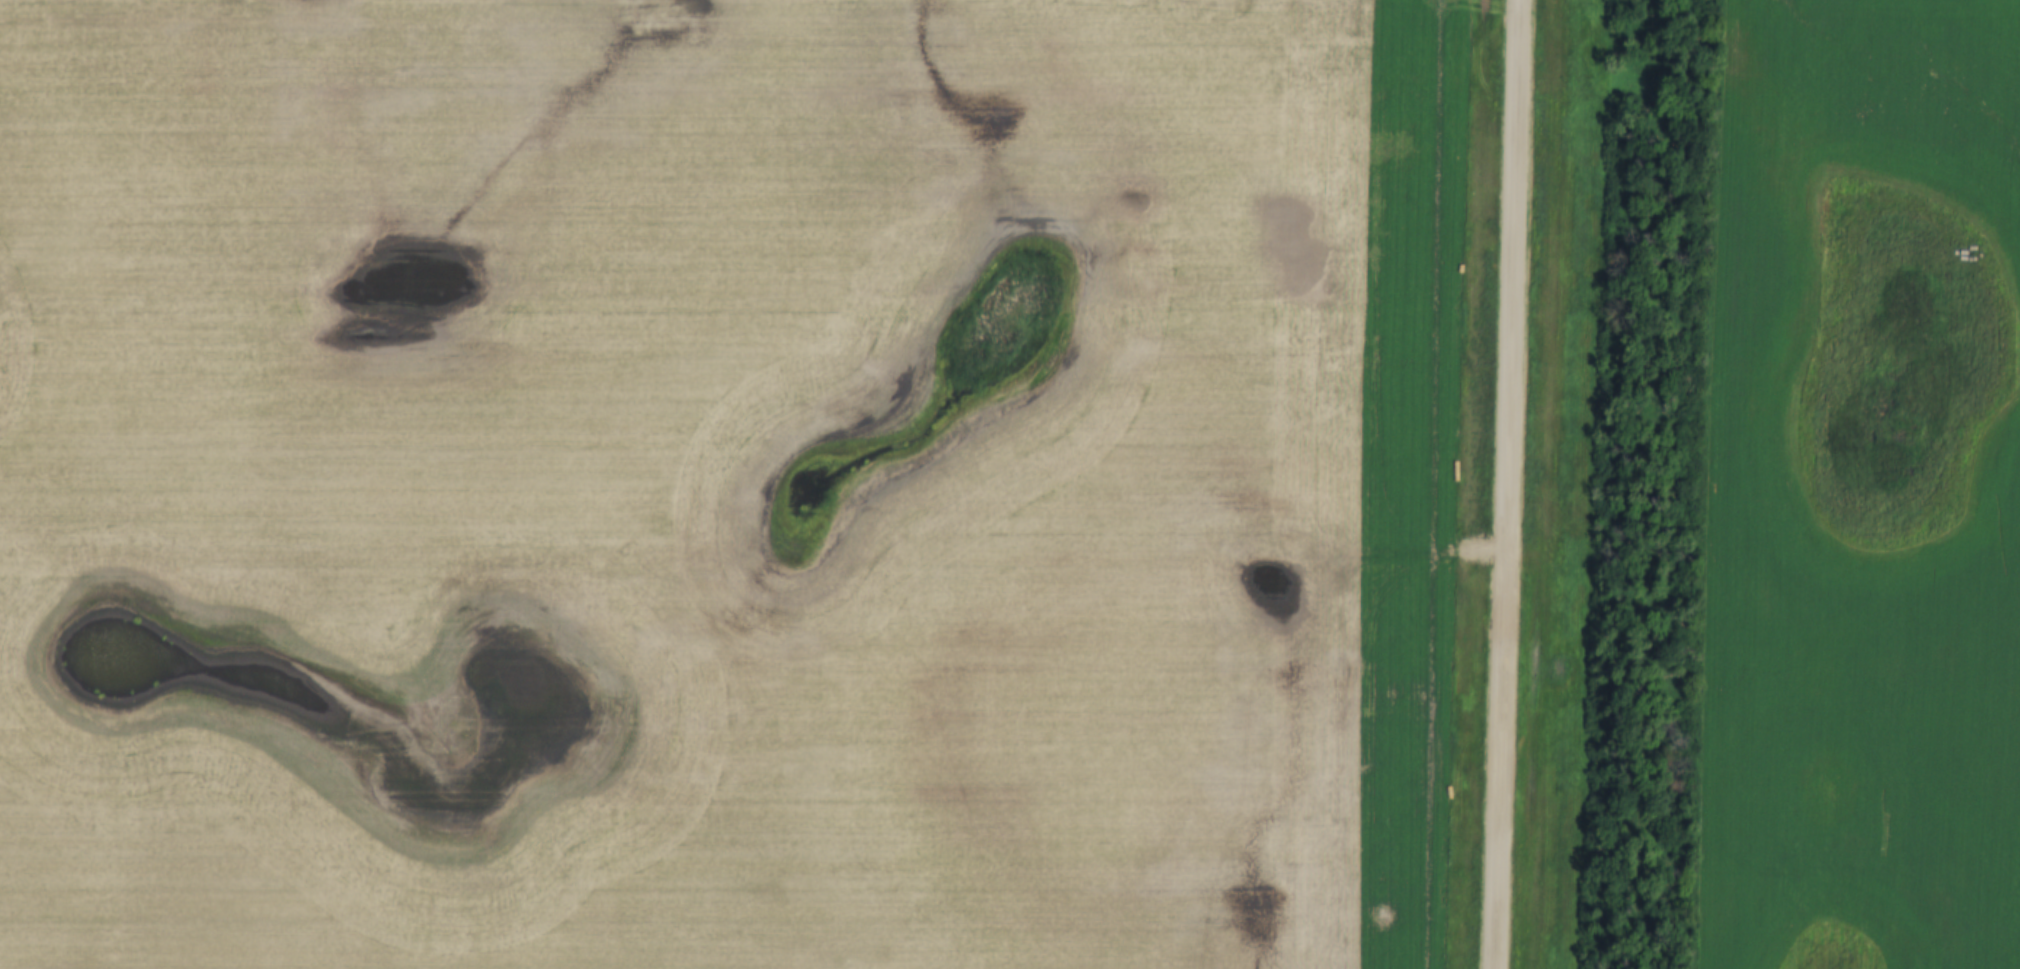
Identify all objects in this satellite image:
road: (1507, 484)

